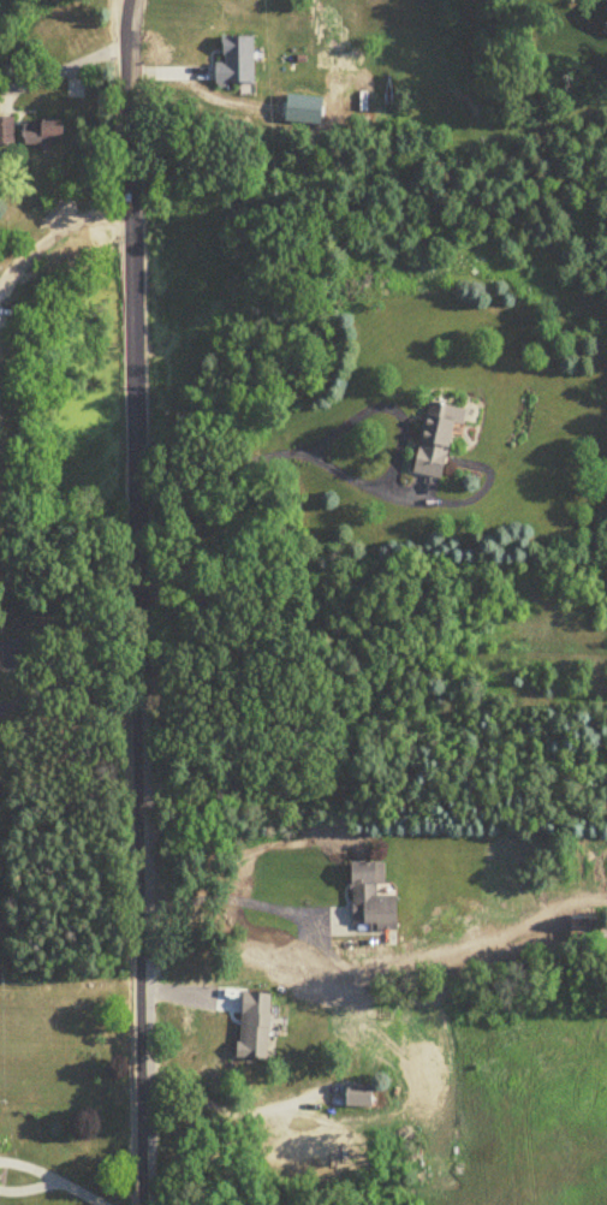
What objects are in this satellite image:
road: (65, 67)
building: (47, 131)
building: (8, 132)
road: (56, 230)
road: (335, 431)
building: (439, 441)
road: (139, 601)
building: (374, 901)
road: (237, 904)
building: (257, 1027)
building: (361, 1097)
road: (231, 1111)
road: (29, 1165)
road: (26, 1189)
road: (78, 1192)

